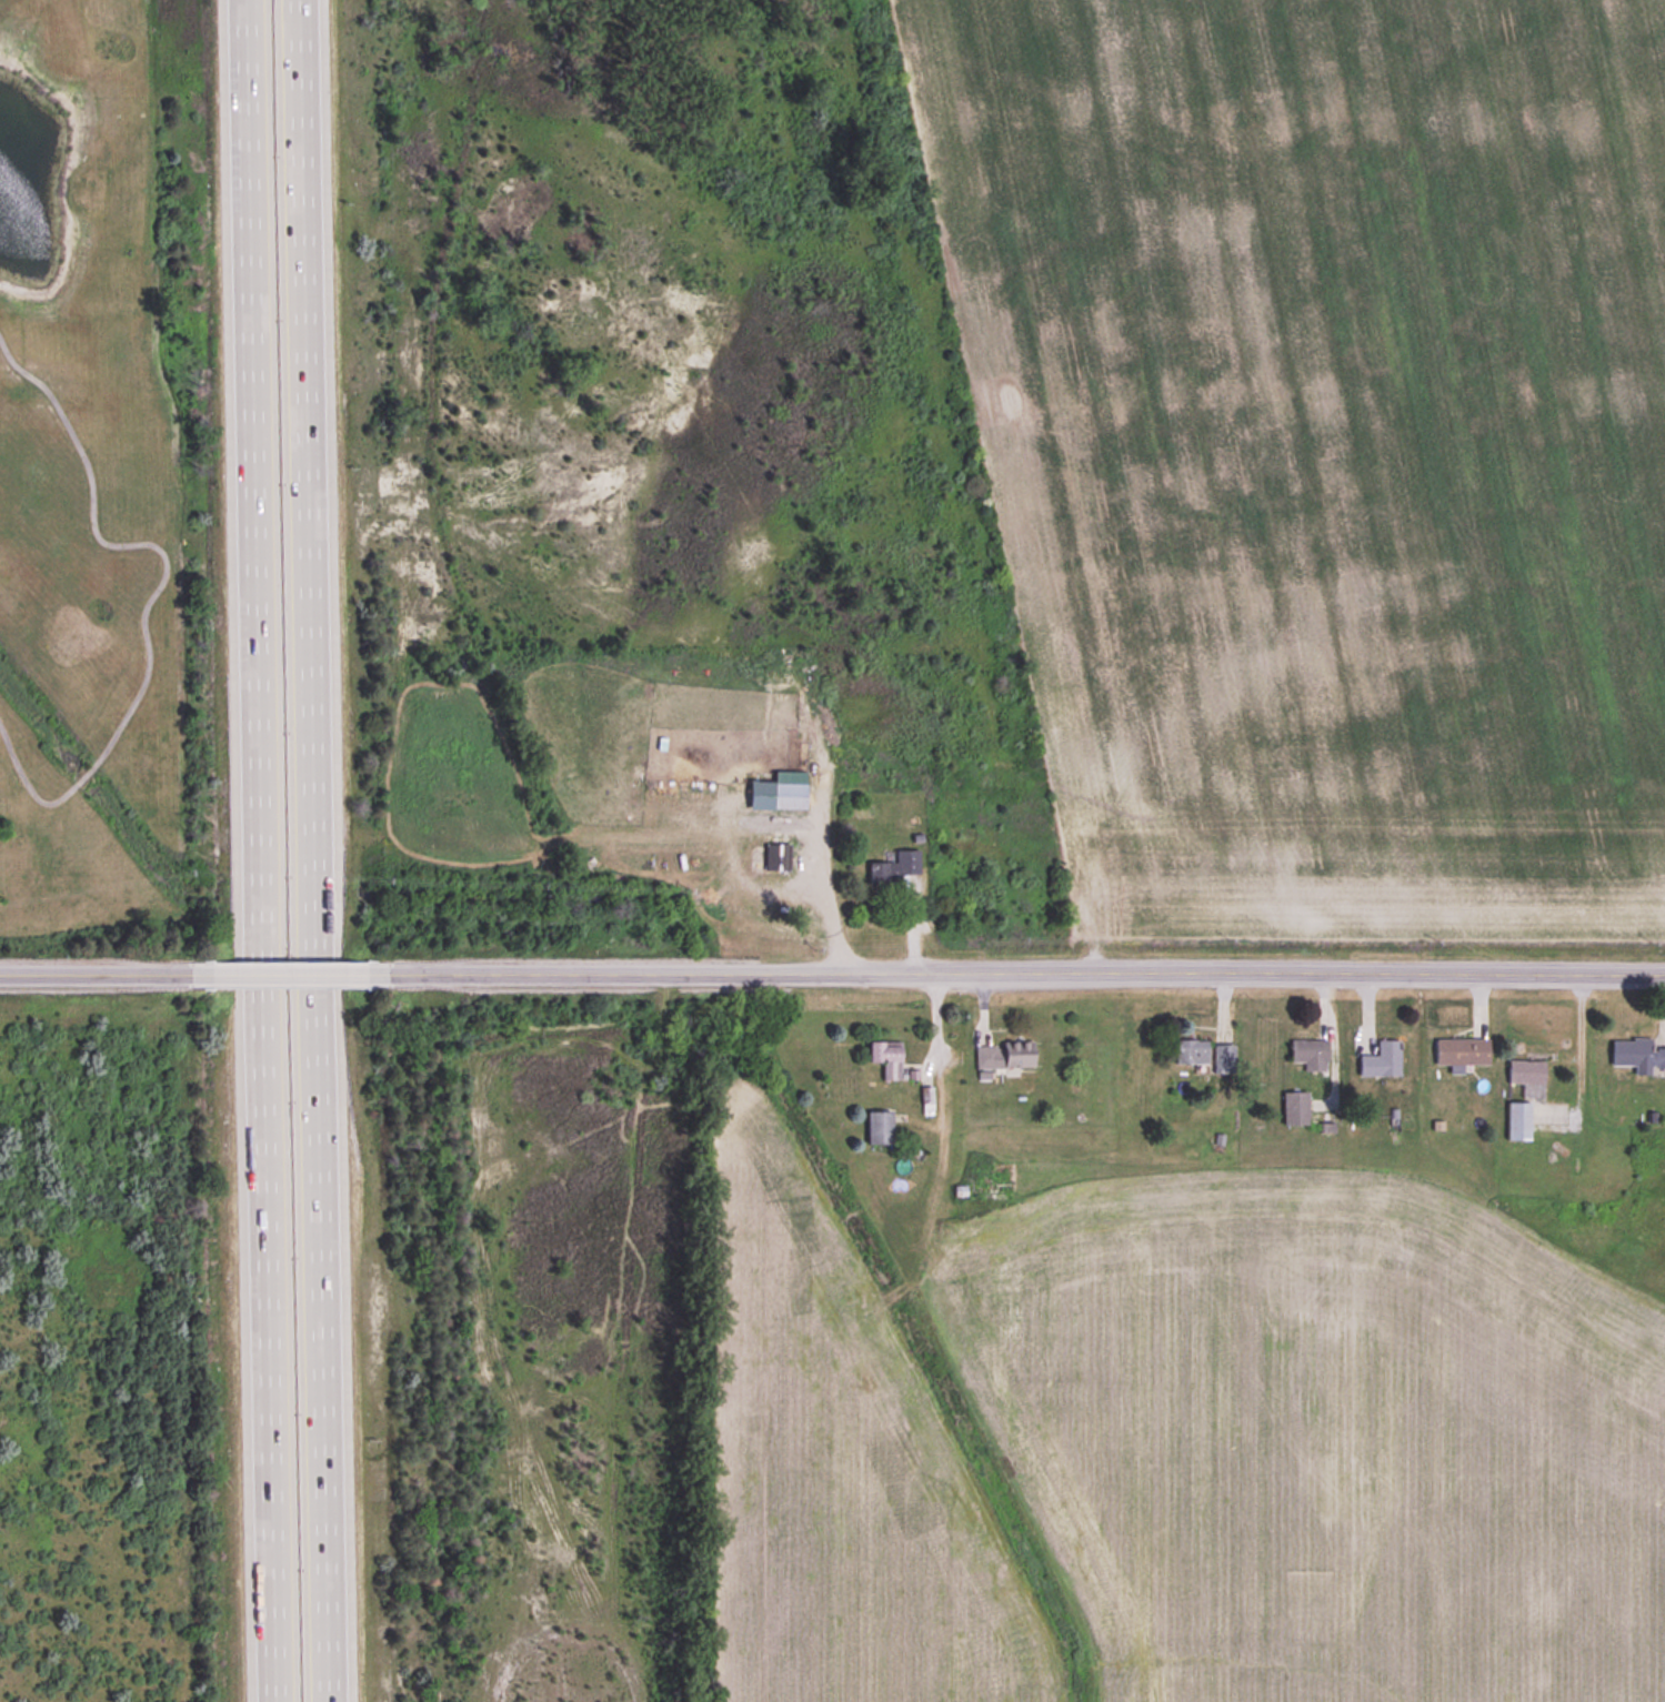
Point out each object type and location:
crop: (1322, 445)
building: (789, 796)
road: (254, 850)
road: (320, 850)
building: (776, 857)
building: (894, 869)
road: (913, 929)
road: (1017, 976)
road: (108, 977)
road: (293, 977)
road: (1579, 1049)
building: (1462, 1051)
building: (1191, 1053)
building: (1310, 1055)
building: (1004, 1056)
building: (1636, 1056)
building: (886, 1059)
building: (1223, 1059)
building: (1382, 1060)
building: (1526, 1072)
building: (1295, 1109)
building: (1518, 1121)
building: (879, 1128)
building: (982, 1181)

